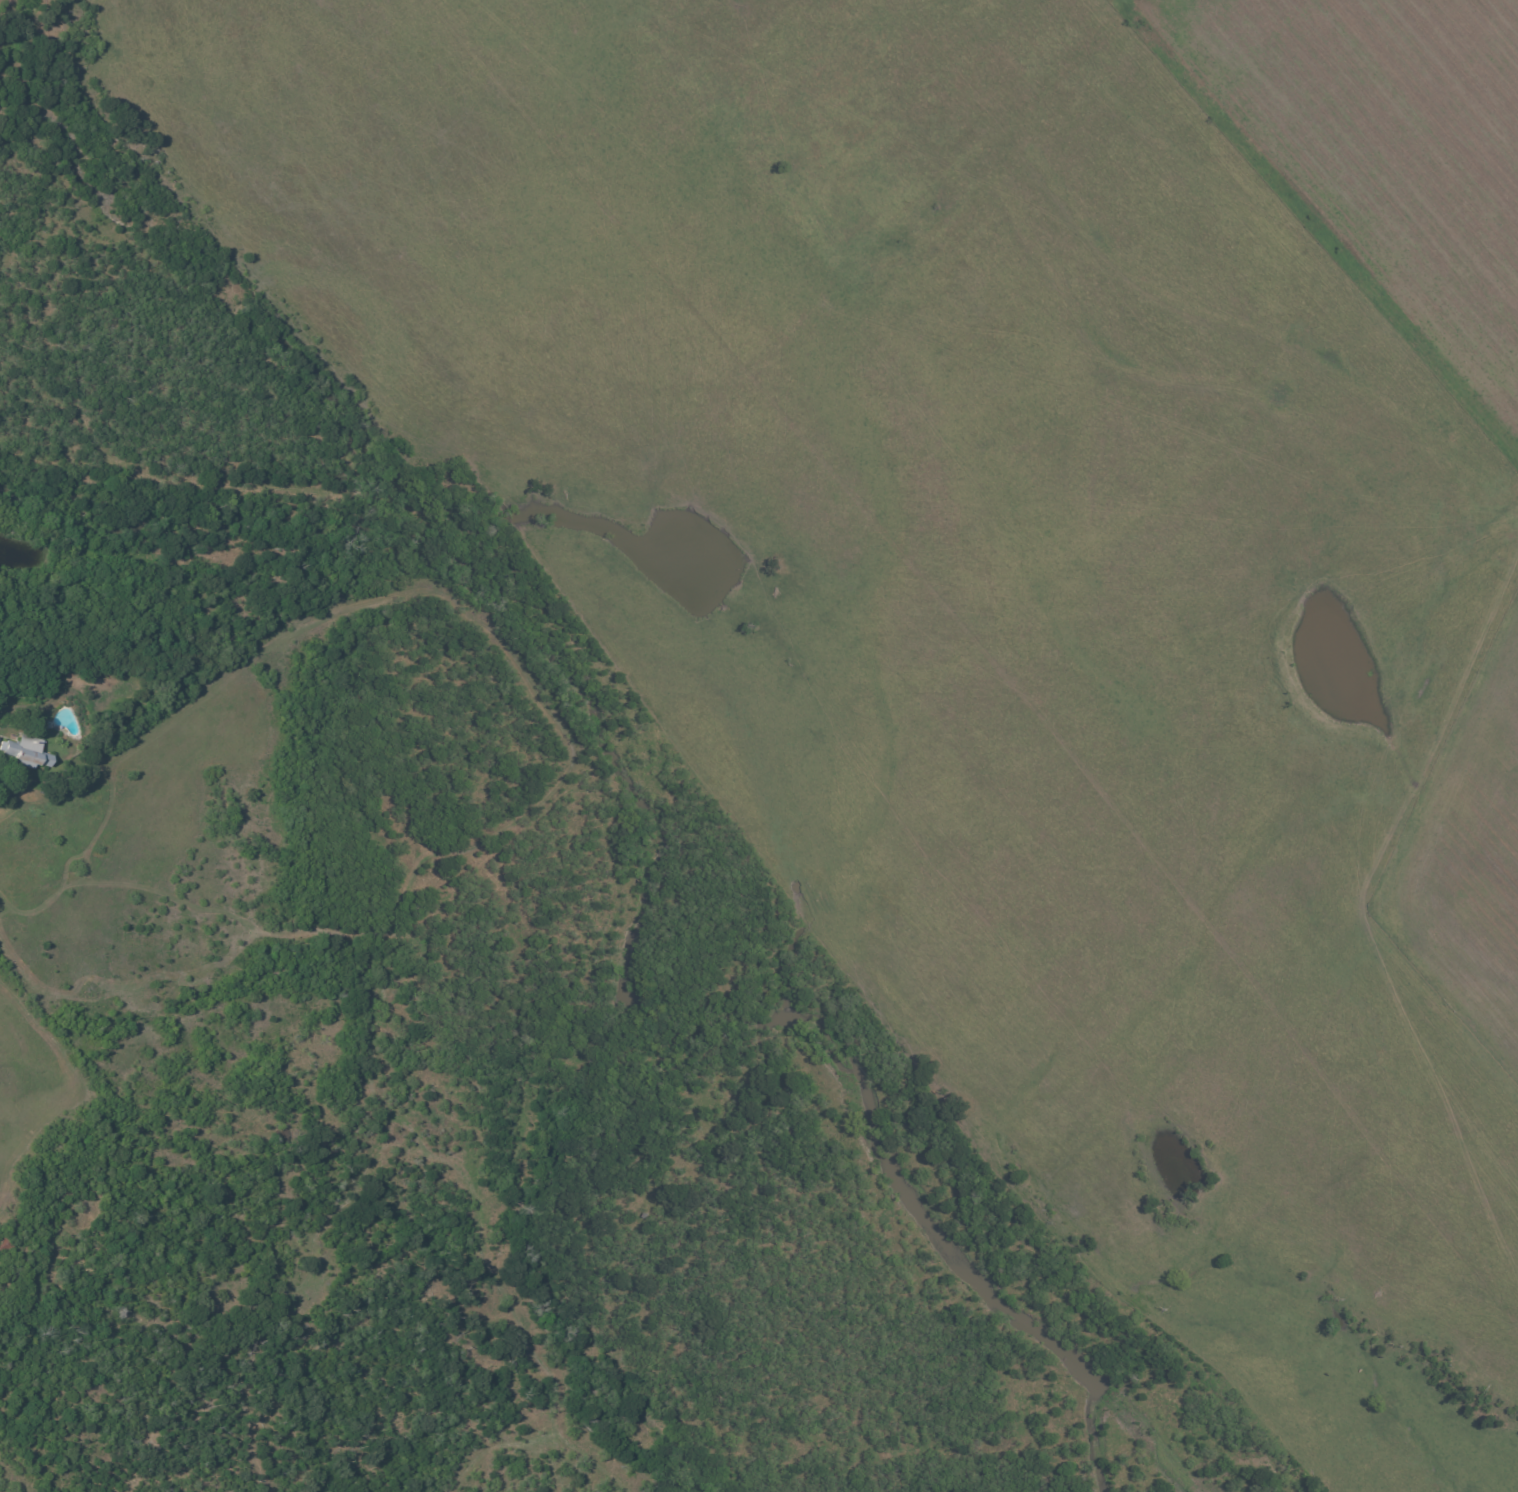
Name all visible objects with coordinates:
building: (26, 751)

